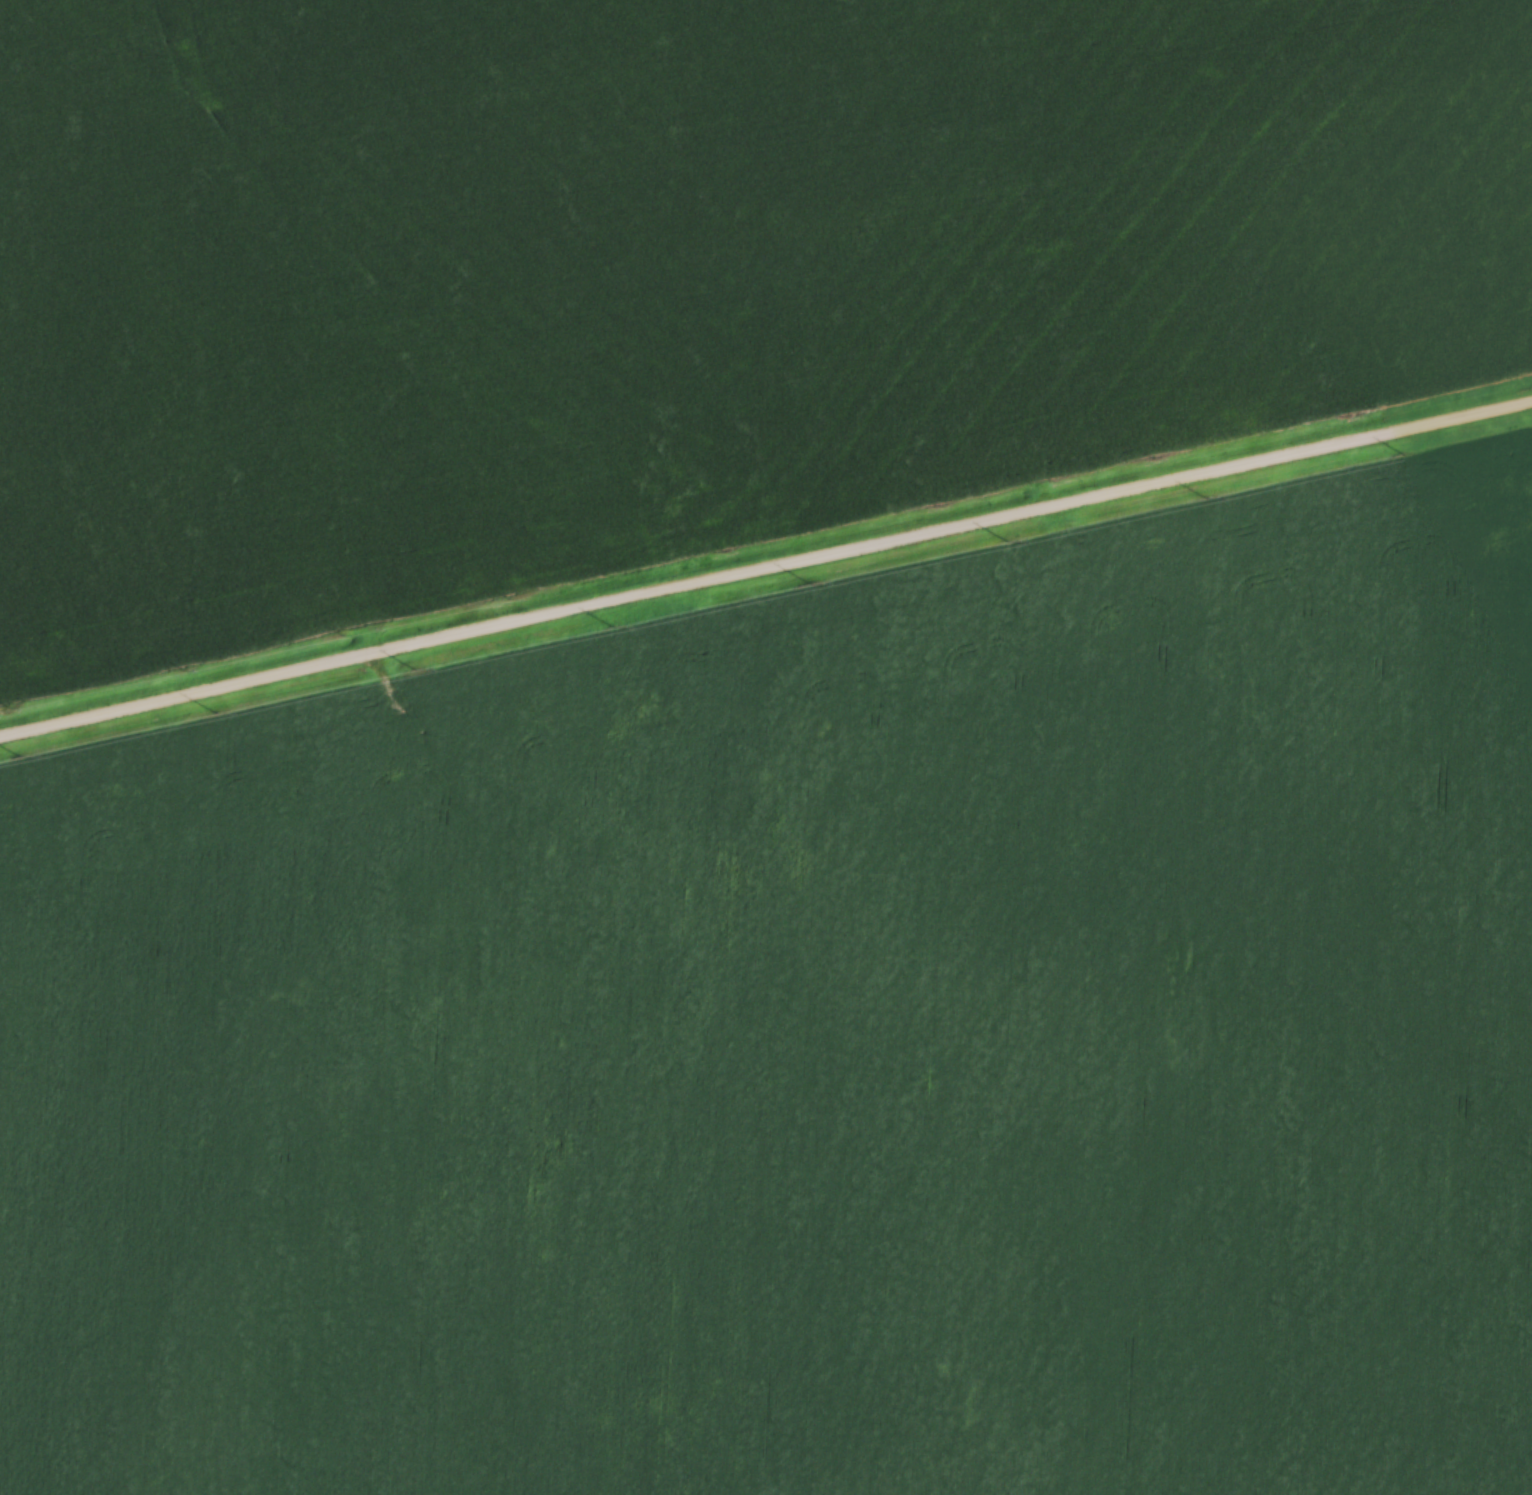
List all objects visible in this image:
road: (766, 568)

